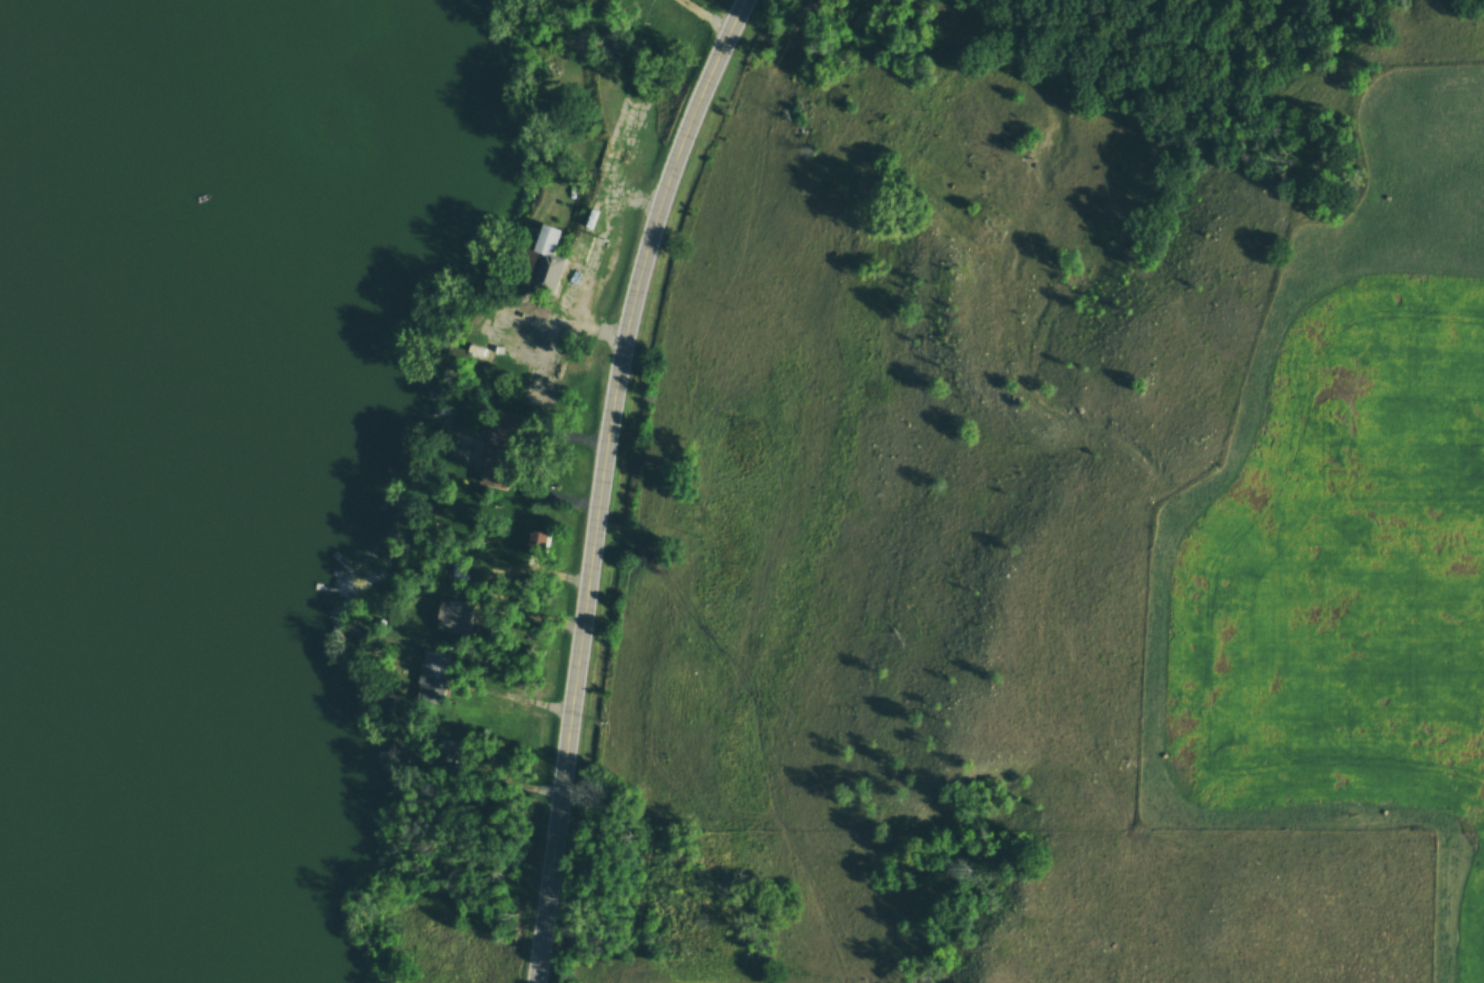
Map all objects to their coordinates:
road: (705, 16)
building: (542, 261)
building: (506, 431)
road: (608, 482)
building: (535, 543)
road: (468, 616)
building: (433, 669)
building: (454, 753)

